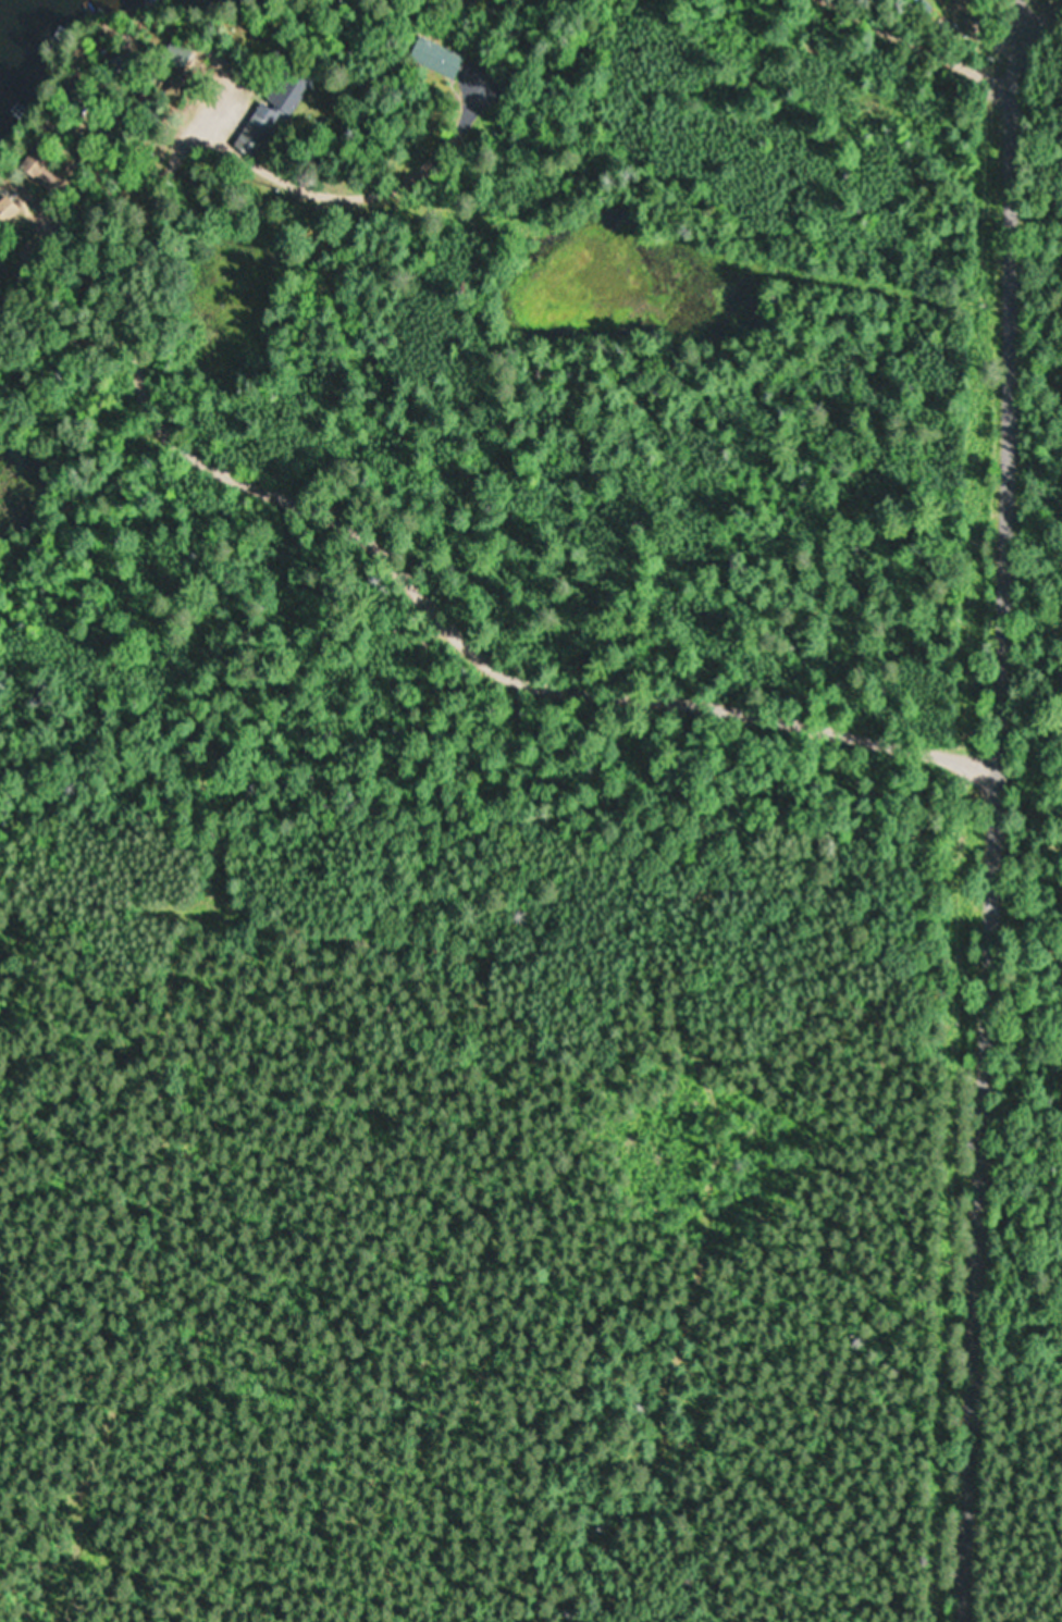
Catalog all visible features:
building: (434, 58)
building: (272, 112)
road: (924, 124)
road: (273, 486)
road: (989, 804)

